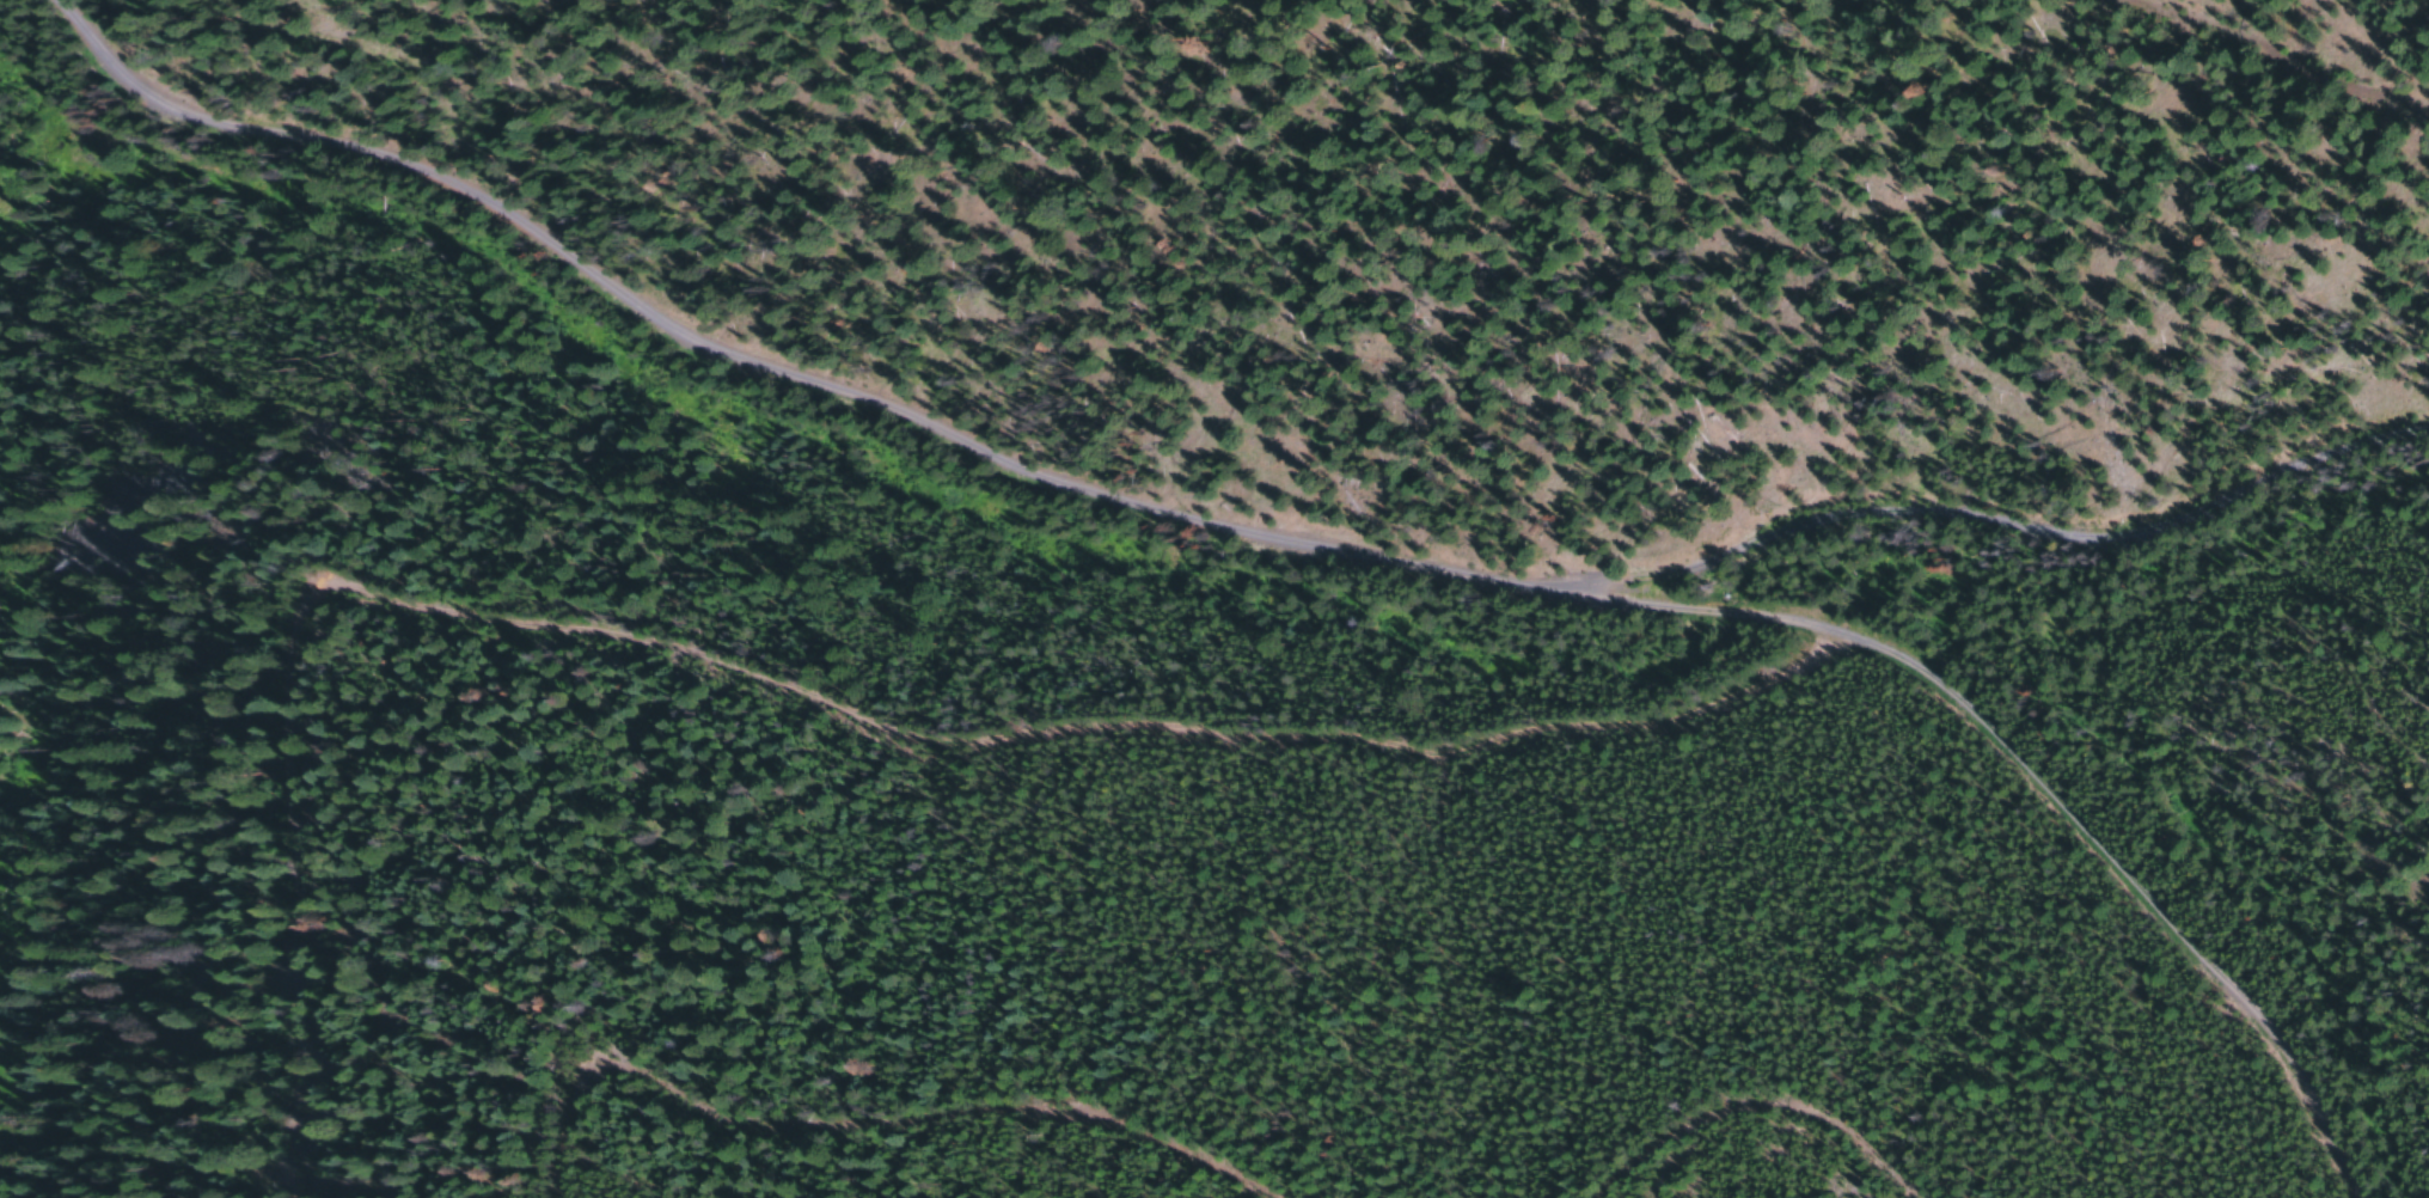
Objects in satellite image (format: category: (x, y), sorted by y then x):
road: (2184, 67)
road: (2171, 473)
road: (1295, 500)
road: (887, 772)
road: (1639, 1190)

